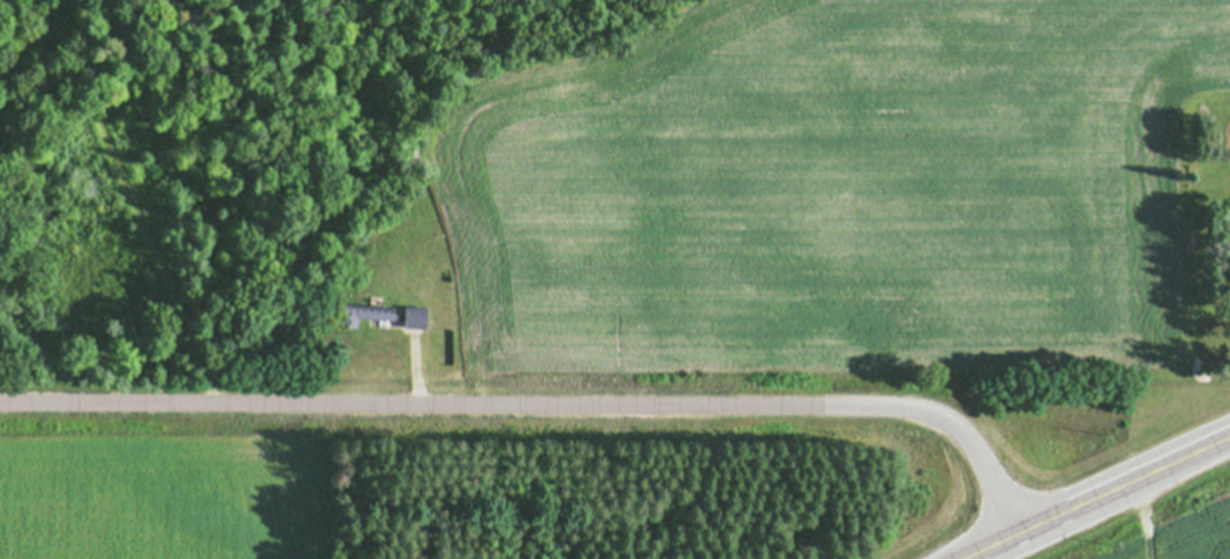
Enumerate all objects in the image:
road: (130, 204)
building: (379, 313)
road: (543, 405)
road: (1096, 498)

